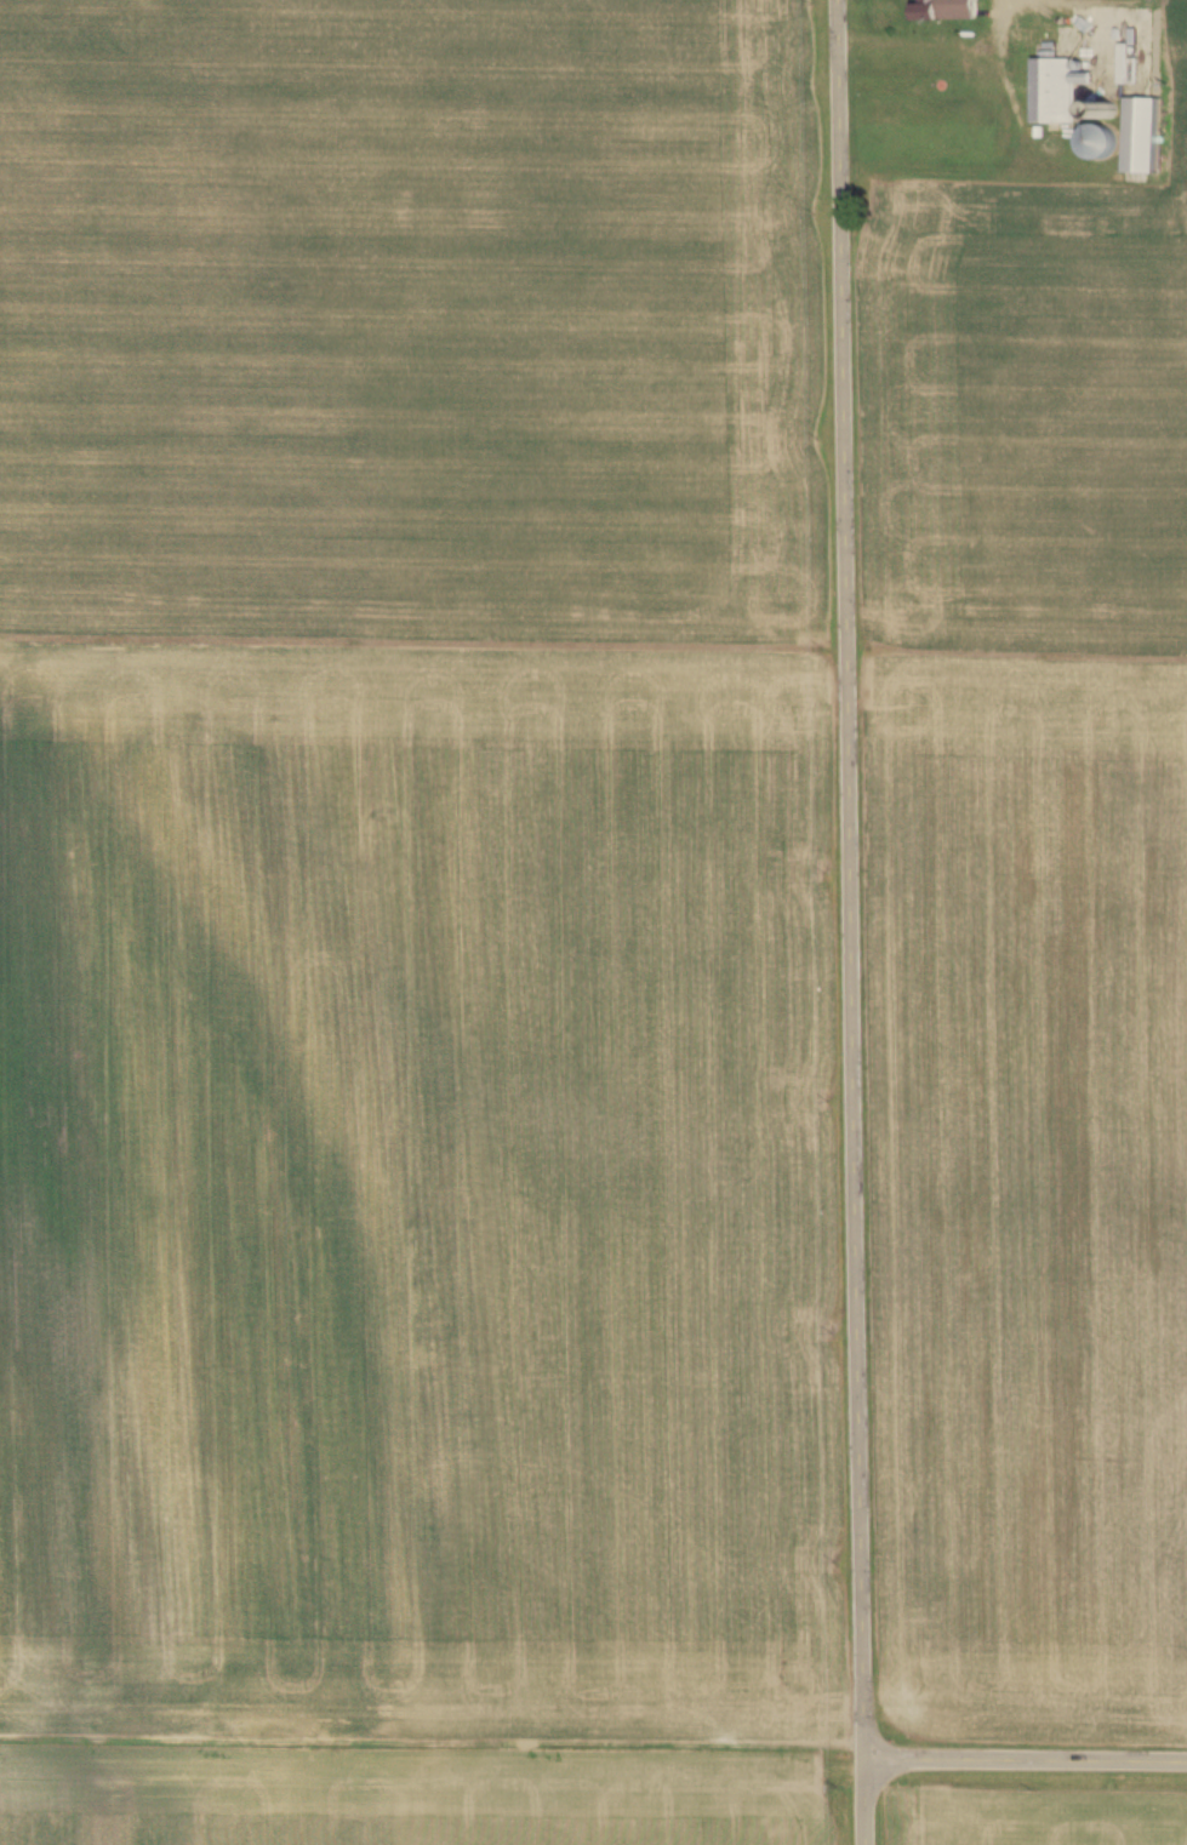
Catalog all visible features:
building: (946, 10)
building: (1035, 40)
building: (1056, 91)
building: (1141, 137)
building: (1098, 143)
crop: (416, 316)
road: (850, 922)
crop: (1031, 948)
crop: (420, 1184)
road: (1023, 1753)
crop: (1038, 1817)

